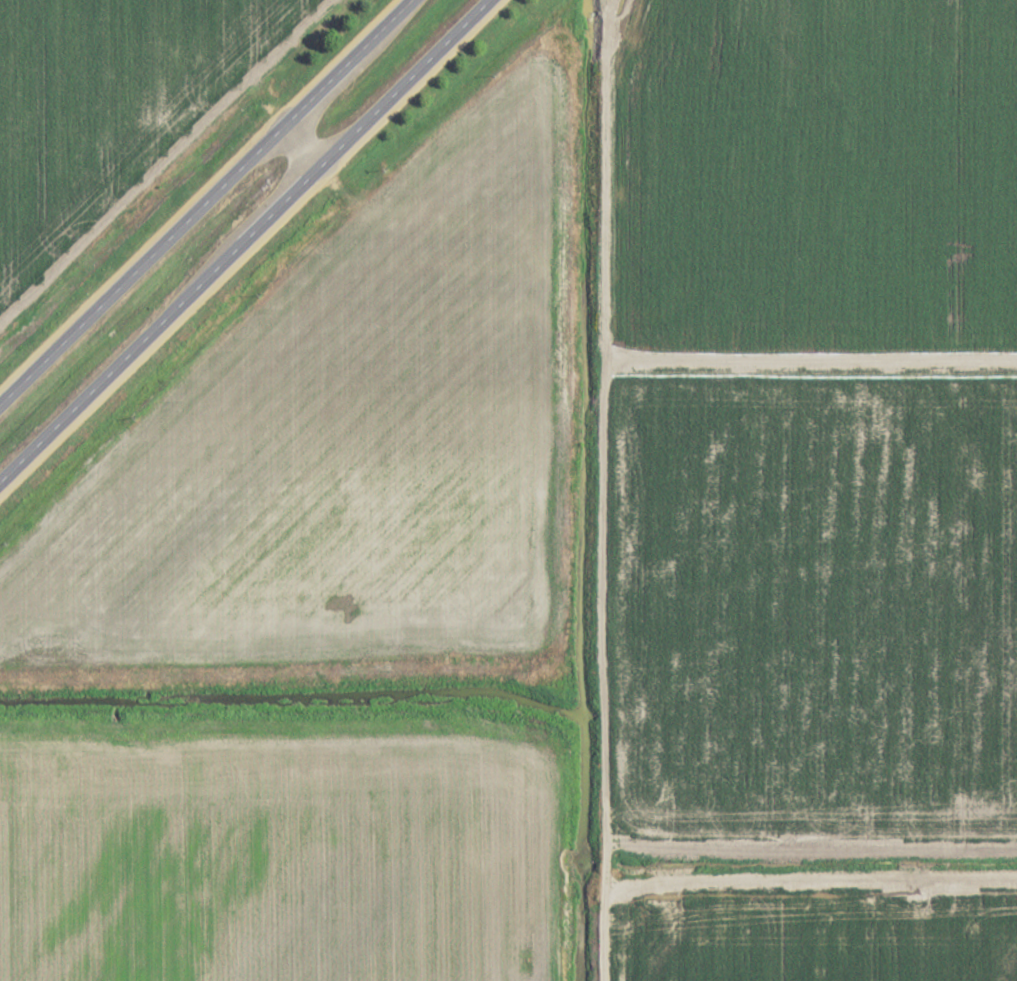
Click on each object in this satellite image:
road: (208, 203)
road: (246, 239)
road: (608, 489)

